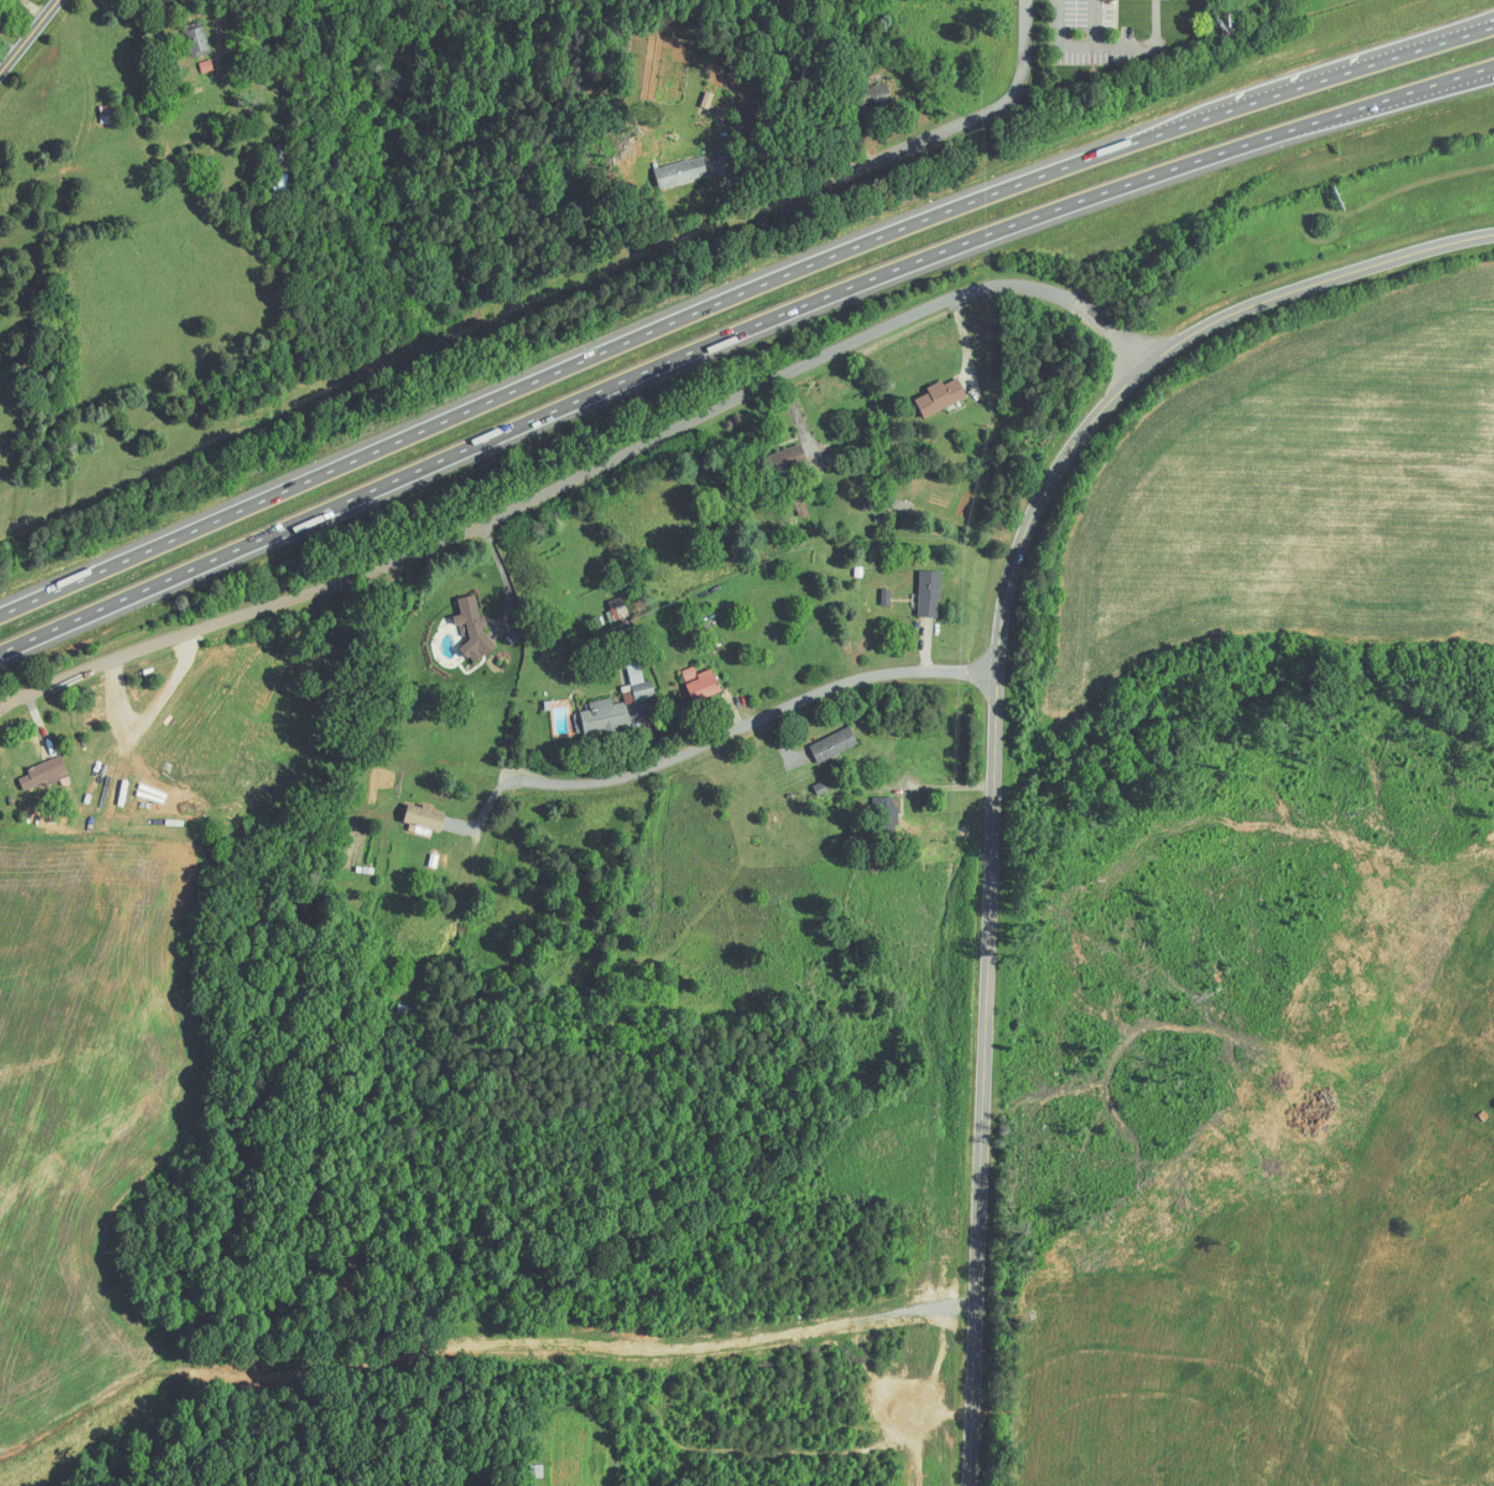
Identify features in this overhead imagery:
road: (1097, 23)
road: (30, 34)
building: (199, 41)
road: (1100, 46)
road: (1339, 68)
road: (1449, 81)
building: (876, 94)
building: (111, 118)
road: (937, 139)
road: (752, 152)
building: (682, 173)
road: (1315, 281)
road: (736, 293)
road: (736, 331)
road: (747, 389)
building: (941, 397)
building: (930, 594)
building: (475, 628)
road: (164, 636)
building: (702, 684)
building: (639, 685)
building: (603, 717)
road: (742, 724)
building: (834, 745)
building: (45, 774)
road: (489, 798)
building: (886, 814)
building: (425, 819)
road: (591, 894)
road: (985, 901)

